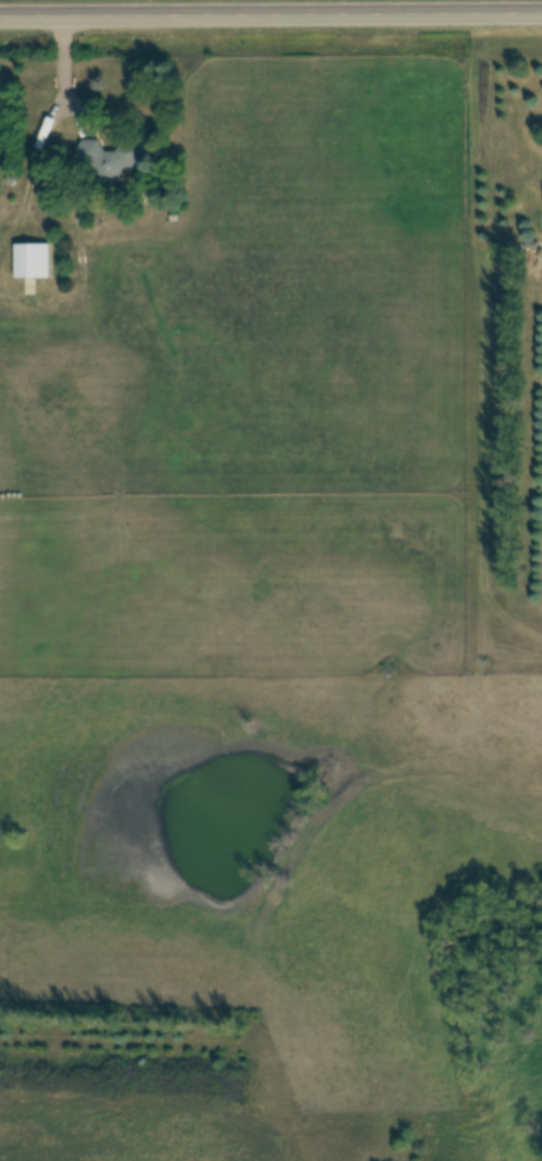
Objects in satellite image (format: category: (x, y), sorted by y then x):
road: (271, 17)
building: (112, 161)
building: (32, 263)

